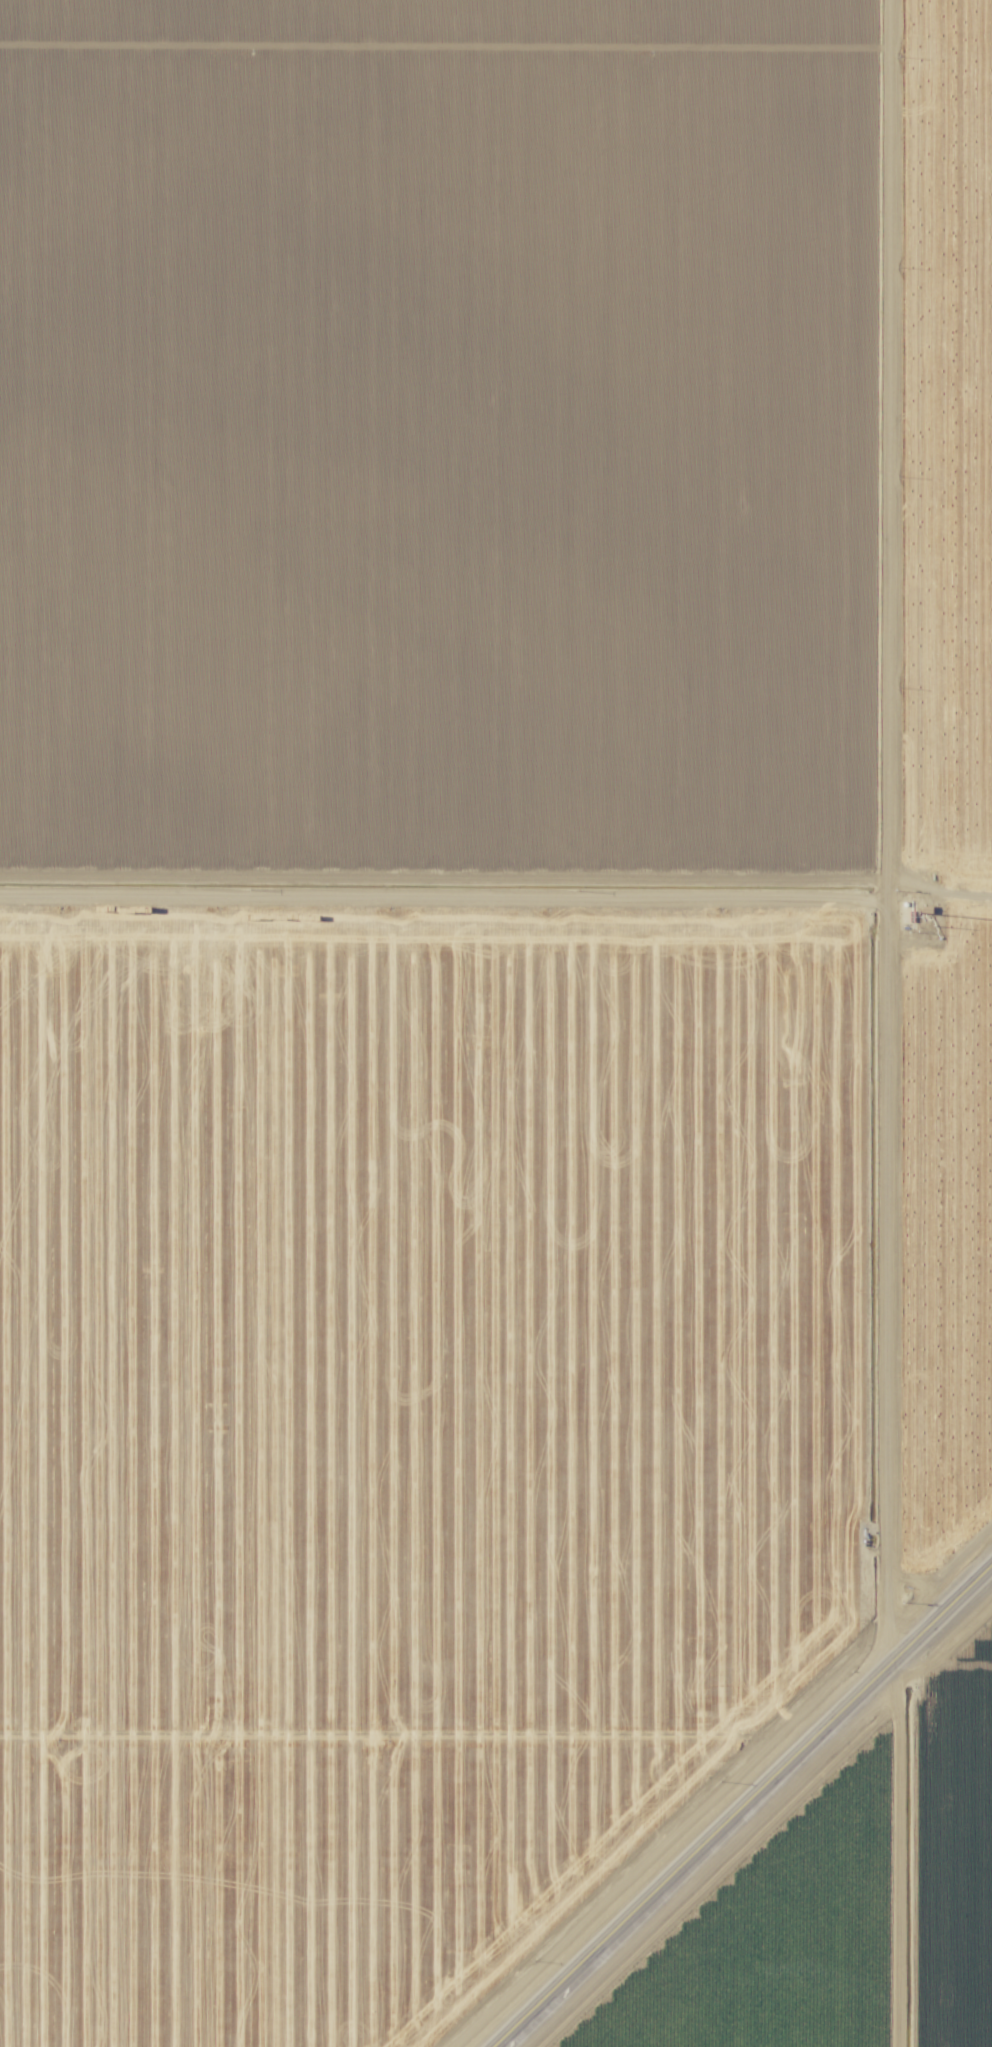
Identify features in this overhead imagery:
road: (897, 457)
road: (430, 897)
road: (868, 1476)
road: (748, 1810)

